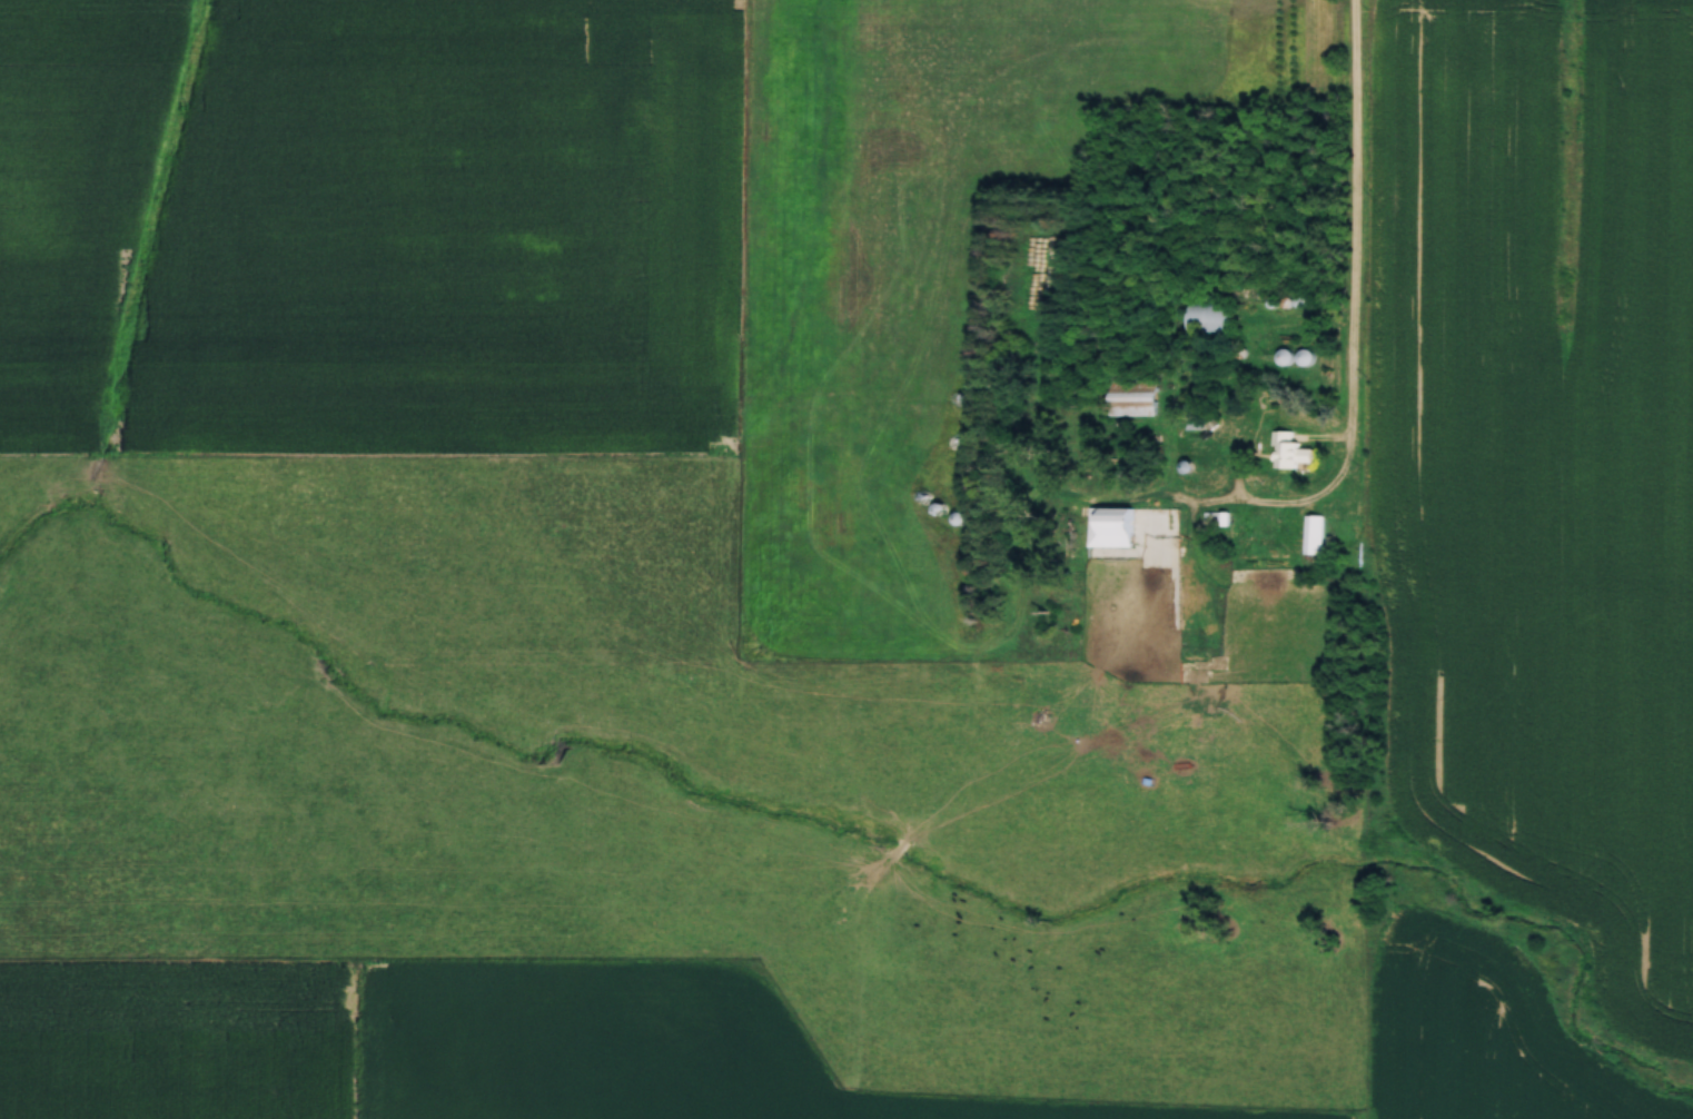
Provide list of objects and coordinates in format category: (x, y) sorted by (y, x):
building: (1204, 315)
road: (1357, 368)
building: (1290, 450)
building: (1106, 532)
building: (1315, 533)

